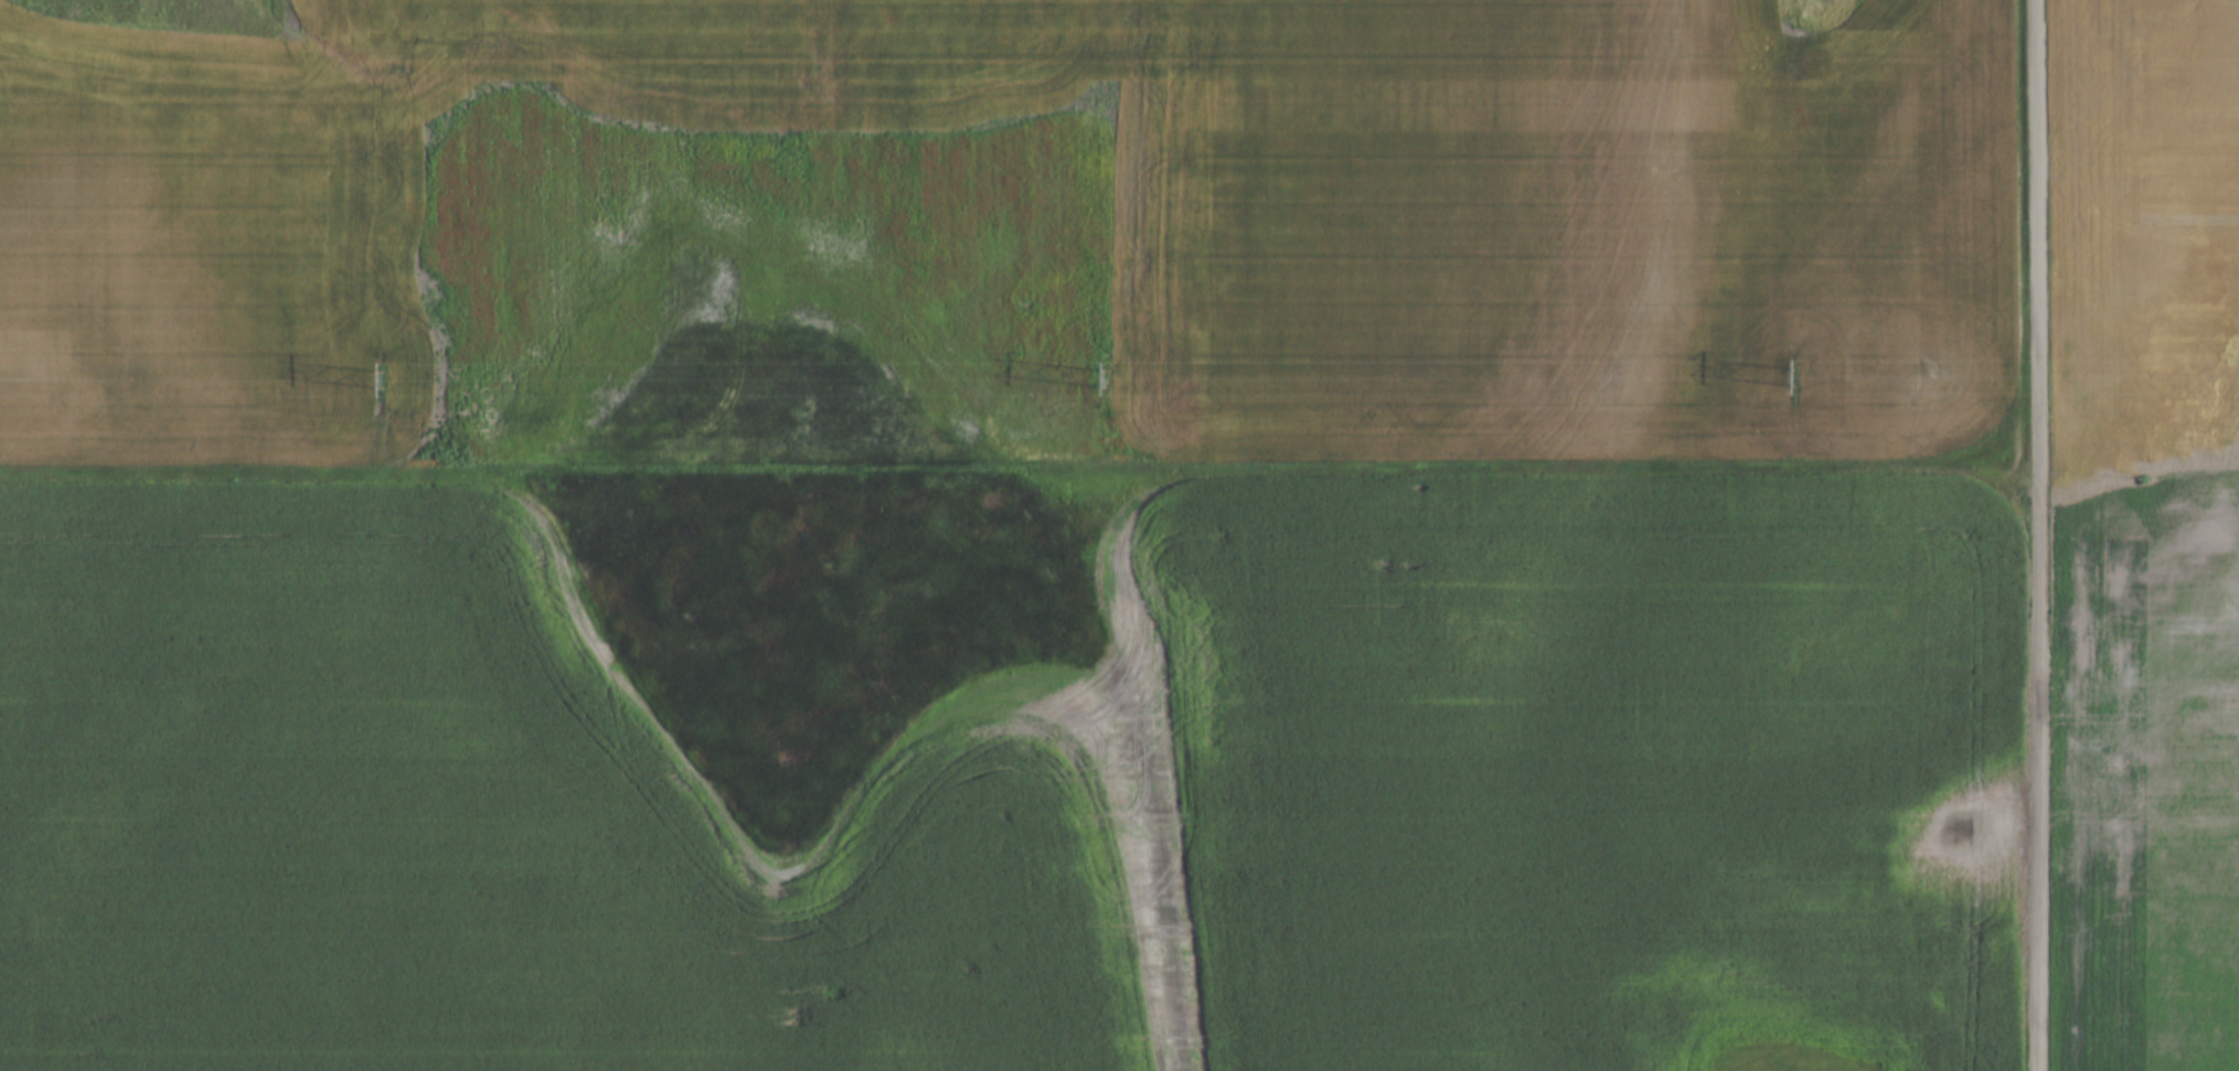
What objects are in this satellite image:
power tower: (1790, 376)
power tower: (388, 377)
power tower: (1107, 378)
road: (1021, 478)
road: (2041, 535)

